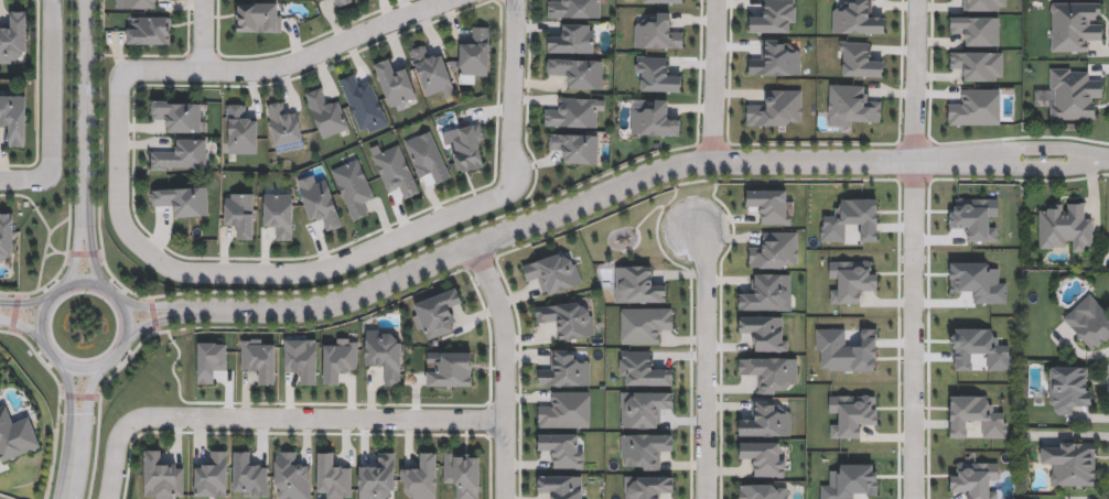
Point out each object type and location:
building: (320, 0)
building: (356, 0)
building: (664, 1)
building: (340, 2)
building: (141, 3)
building: (983, 4)
building: (573, 9)
building: (258, 17)
building: (774, 17)
building: (858, 18)
building: (1075, 24)
building: (976, 29)
building: (150, 30)
building: (657, 31)
road: (203, 35)
building: (13, 36)
building: (572, 37)
building: (474, 52)
building: (775, 57)
building: (859, 58)
road: (291, 61)
building: (978, 64)
building: (432, 70)
building: (577, 72)
building: (657, 73)
road: (712, 79)
road: (914, 80)
building: (395, 83)
road: (512, 87)
road: (51, 89)
building: (1073, 93)
building: (364, 104)
building: (852, 104)
building: (976, 107)
building: (776, 108)
building: (326, 112)
building: (572, 112)
building: (179, 115)
building: (13, 119)
road: (84, 119)
building: (655, 119)
building: (284, 126)
building: (241, 129)
building: (466, 147)
building: (574, 147)
building: (181, 154)
building: (427, 156)
building: (394, 170)
road: (117, 178)
road: (24, 181)
road: (632, 182)
building: (354, 187)
building: (183, 199)
building: (320, 202)
building: (772, 207)
building: (239, 213)
building: (279, 214)
building: (1065, 229)
building: (6, 234)
building: (775, 252)
road: (352, 261)
road: (76, 262)
road: (93, 262)
building: (554, 274)
building: (638, 286)
building: (767, 294)
road: (23, 307)
road: (150, 308)
building: (439, 315)
road: (152, 322)
building: (567, 322)
building: (1089, 323)
road: (20, 324)
building: (645, 326)
road: (914, 329)
building: (765, 334)
building: (259, 361)
building: (301, 362)
building: (340, 362)
road: (707, 362)
road: (505, 369)
building: (451, 370)
road: (90, 371)
building: (564, 371)
building: (644, 371)
building: (772, 373)
building: (1068, 389)
road: (71, 395)
road: (88, 397)
building: (643, 410)
building: (566, 412)
road: (277, 417)
building: (766, 422)
building: (15, 436)
building: (562, 451)
building: (643, 453)
building: (764, 459)
road: (77, 462)
building: (1069, 463)
building: (462, 475)
building: (162, 477)
building: (212, 477)
building: (250, 477)
building: (291, 477)
building: (333, 477)
building: (421, 478)
building: (378, 479)
building: (976, 481)
building: (561, 487)
building: (648, 487)
building: (764, 492)

